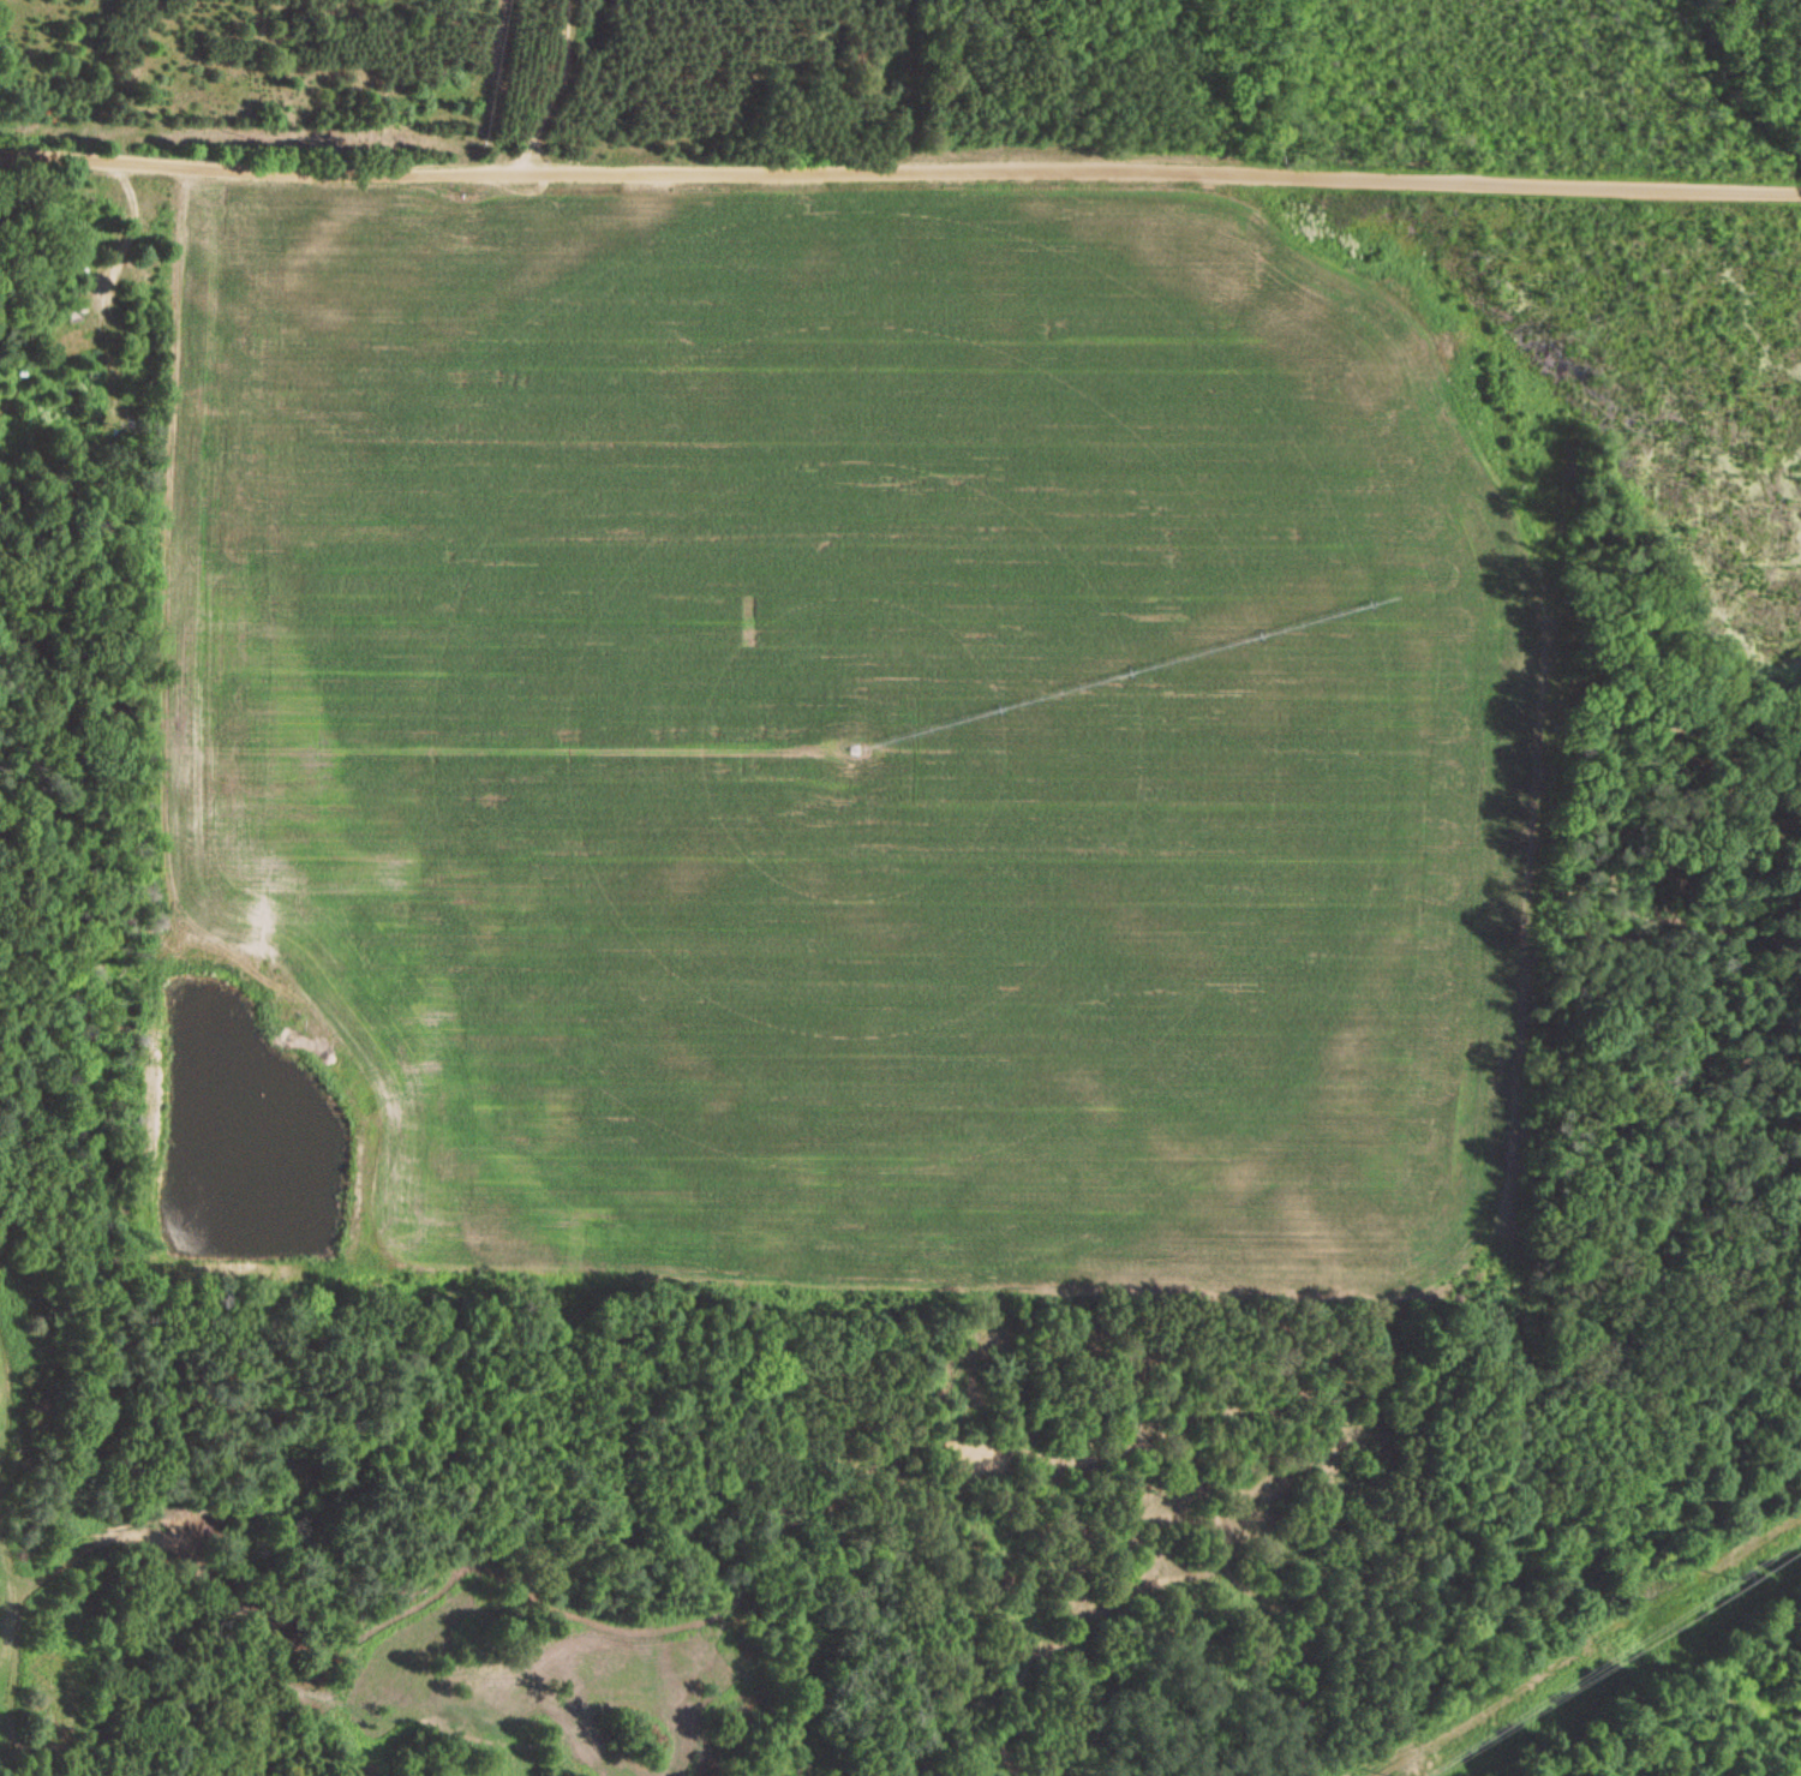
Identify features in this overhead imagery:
road: (1618, 85)
road: (899, 169)
crop: (862, 722)
road: (1359, 782)
crop: (7, 1556)

